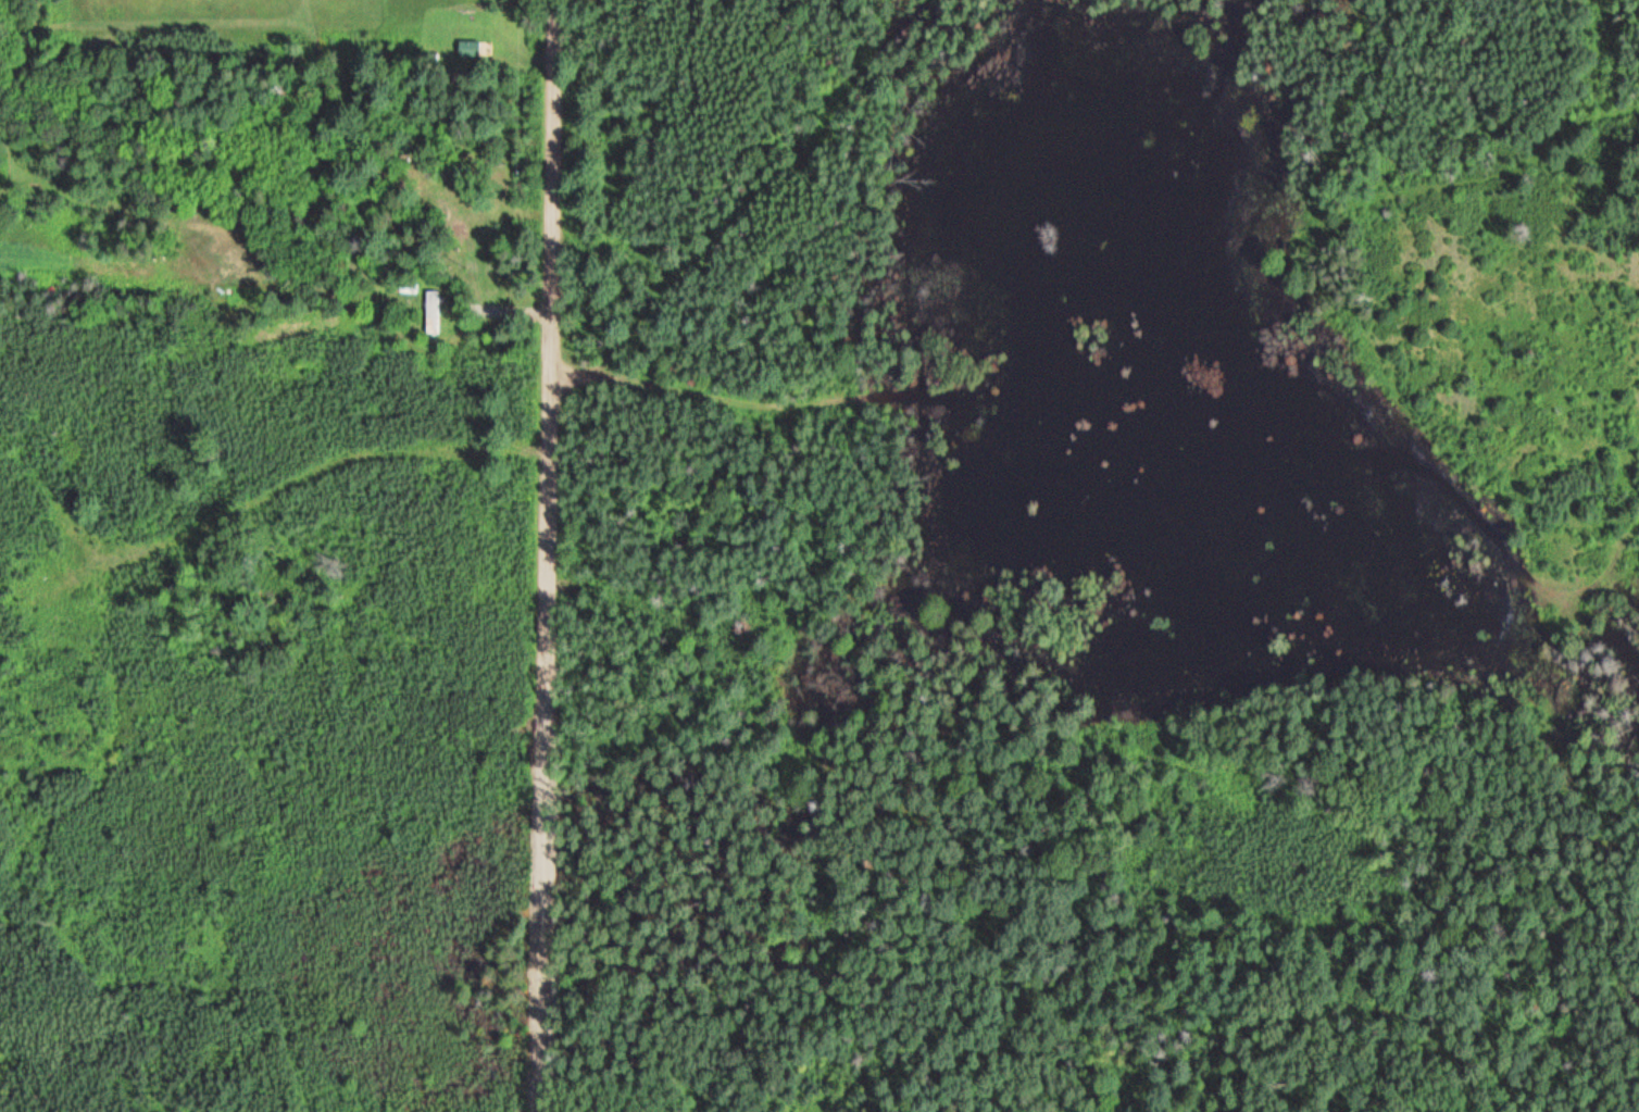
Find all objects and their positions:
building: (470, 48)
building: (431, 312)
road: (546, 555)

